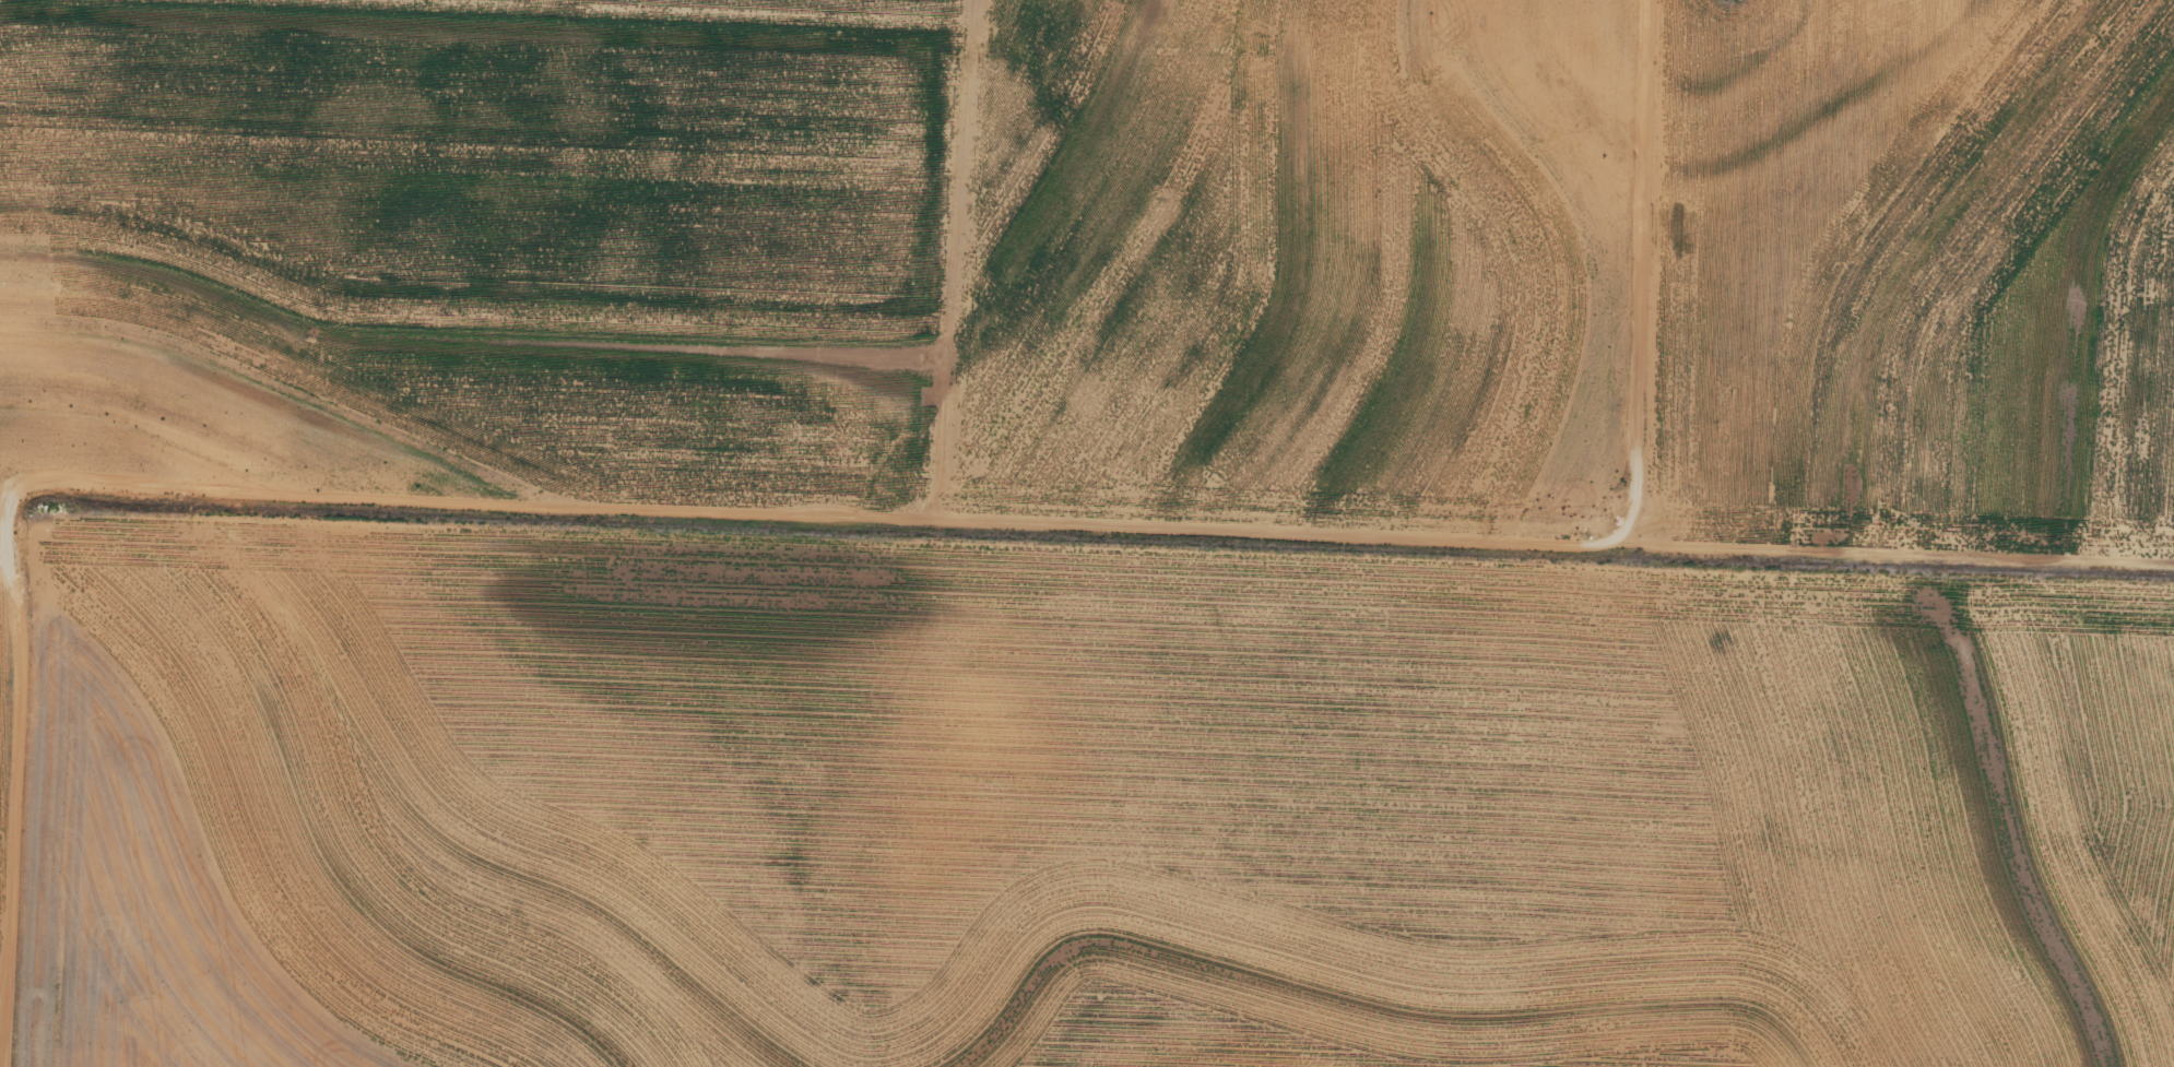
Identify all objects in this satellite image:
road: (496, 509)

